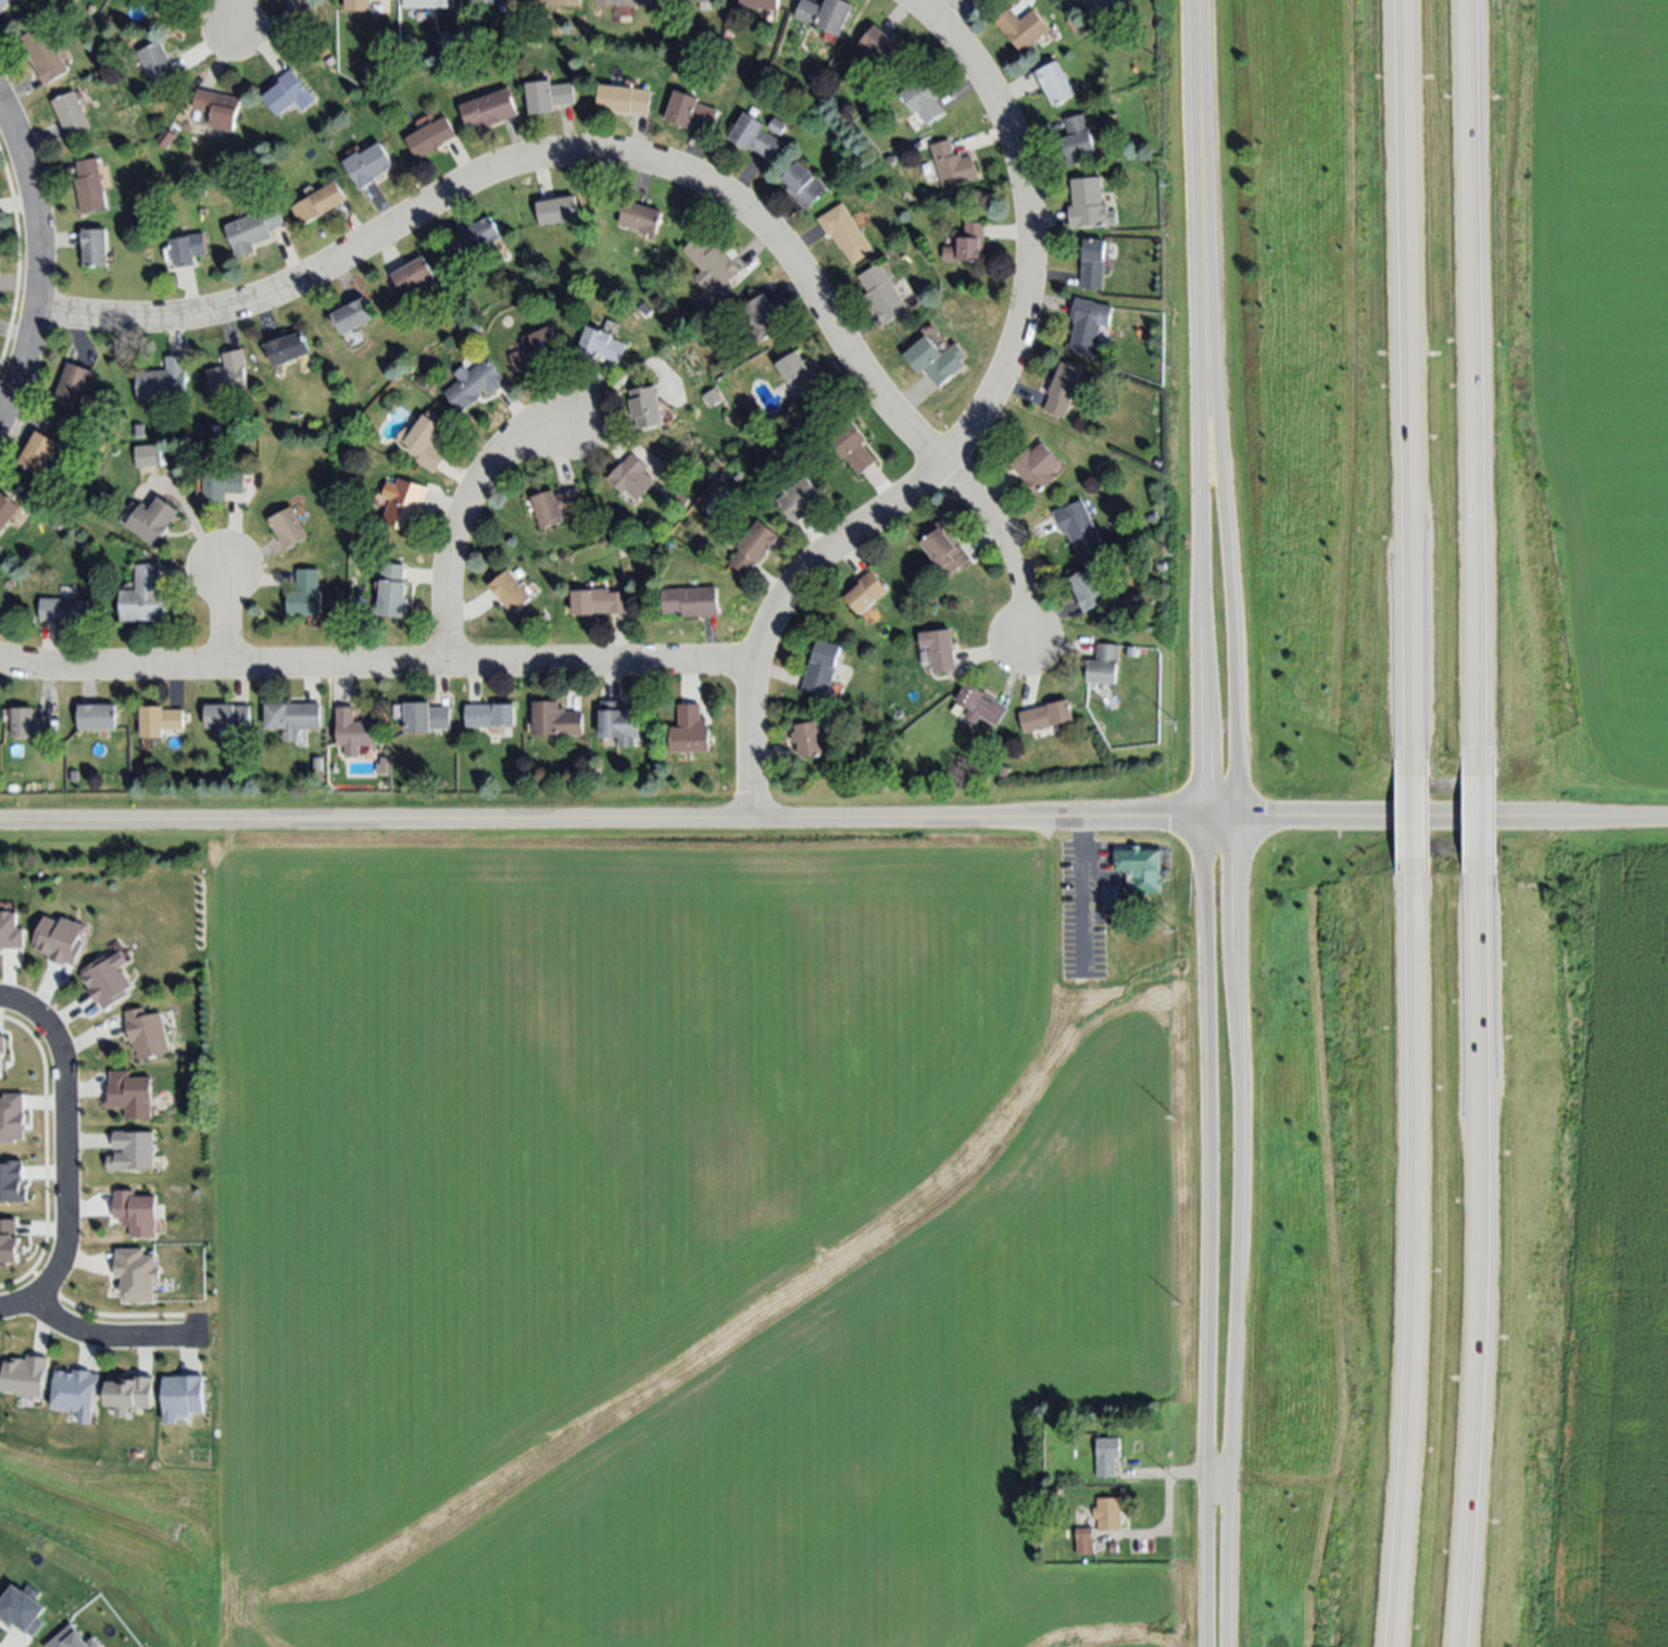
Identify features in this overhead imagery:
building: (477, 0)
building: (168, 1)
building: (693, 1)
building: (430, 2)
building: (498, 2)
building: (623, 2)
building: (3, 3)
building: (552, 3)
building: (762, 3)
building: (356, 5)
building: (1104, 8)
road: (951, 10)
building: (300, 13)
building: (826, 14)
road: (236, 16)
building: (116, 17)
building: (1071, 23)
building: (1023, 28)
building: (444, 41)
building: (881, 47)
building: (45, 54)
building: (158, 63)
building: (1054, 83)
building: (288, 93)
building: (549, 96)
building: (626, 99)
building: (923, 99)
building: (217, 108)
building: (489, 109)
building: (690, 112)
building: (71, 113)
road: (1197, 123)
building: (777, 125)
building: (754, 136)
building: (429, 138)
building: (165, 139)
building: (1077, 139)
road: (538, 158)
building: (367, 165)
building: (952, 165)
building: (804, 185)
building: (88, 186)
building: (318, 202)
building: (1089, 204)
building: (557, 210)
building: (641, 217)
building: (253, 230)
building: (845, 233)
building: (478, 236)
building: (967, 245)
building: (93, 247)
building: (187, 249)
road: (17, 259)
road: (40, 260)
building: (712, 263)
building: (1093, 263)
building: (412, 276)
building: (882, 295)
building: (647, 308)
building: (352, 315)
building: (764, 319)
building: (1088, 324)
building: (602, 346)
building: (288, 349)
building: (537, 350)
building: (938, 358)
building: (800, 374)
building: (230, 376)
road: (1399, 378)
building: (163, 382)
building: (475, 384)
building: (73, 385)
road: (1475, 385)
building: (1063, 388)
building: (645, 407)
building: (210, 428)
road: (967, 431)
building: (428, 440)
building: (852, 447)
building: (37, 452)
building: (180, 453)
building: (155, 457)
building: (1036, 467)
building: (632, 477)
building: (220, 486)
building: (678, 498)
building: (800, 500)
building: (405, 503)
building: (556, 507)
building: (7, 510)
building: (1152, 517)
road: (464, 519)
building: (153, 521)
building: (290, 527)
building: (1079, 527)
road: (1008, 537)
building: (754, 547)
building: (945, 548)
building: (9, 586)
building: (1088, 589)
building: (394, 590)
building: (511, 590)
building: (866, 591)
building: (308, 594)
building: (147, 598)
building: (691, 601)
building: (600, 602)
building: (65, 610)
road: (229, 620)
building: (939, 650)
road: (377, 665)
building: (1104, 665)
building: (823, 669)
building: (981, 706)
building: (490, 715)
building: (228, 716)
building: (1046, 716)
building: (97, 718)
building: (292, 718)
building: (426, 718)
building: (555, 720)
building: (160, 721)
building: (619, 723)
building: (28, 724)
building: (691, 731)
building: (354, 733)
building: (808, 739)
building: (318, 764)
building: (1004, 772)
building: (73, 774)
building: (137, 774)
road: (1405, 819)
road: (833, 821)
road: (1481, 824)
building: (1140, 868)
building: (1111, 895)
road: (1234, 946)
road: (1206, 947)
building: (149, 1032)
road: (64, 1155)
building: (135, 1215)
crop: (678, 1239)
road: (1481, 1262)
road: (1406, 1263)
building: (134, 1277)
road: (110, 1338)
building: (179, 1401)
building: (1107, 1457)
building: (1108, 1513)
park: (124, 1534)
building: (1084, 1542)
building: (1113, 1547)

